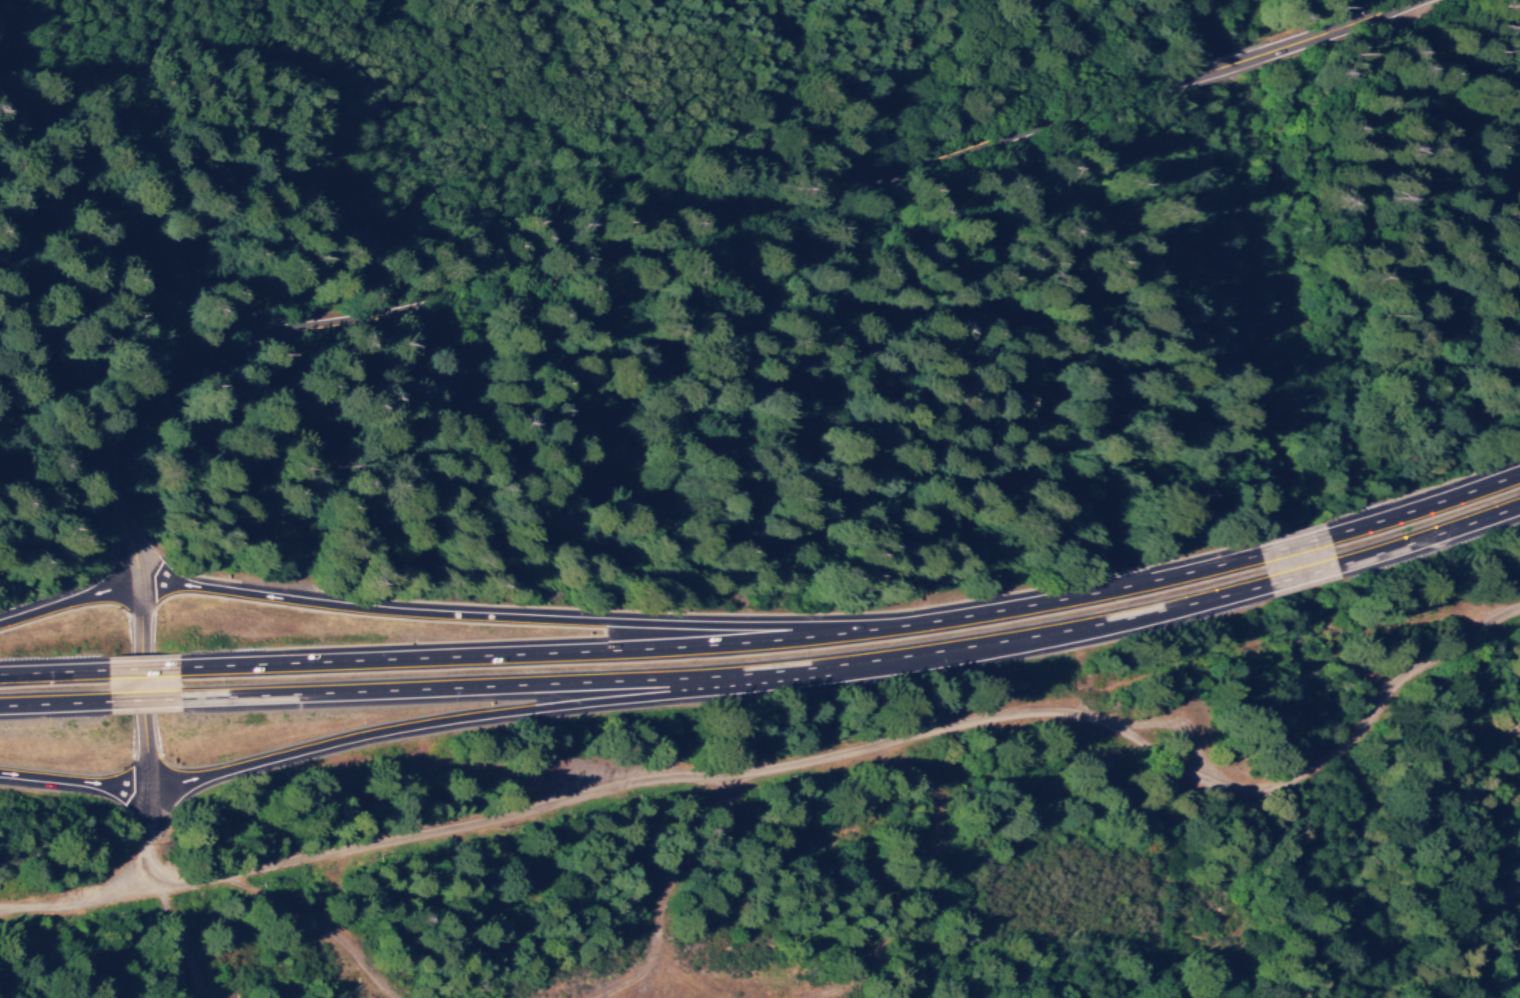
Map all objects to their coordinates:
road: (1351, 27)
road: (1228, 75)
road: (128, 89)
road: (149, 225)
road: (691, 265)
road: (94, 370)
road: (147, 474)
road: (1423, 512)
road: (1430, 544)
road: (1295, 550)
road: (1307, 579)
road: (1129, 589)
road: (69, 606)
road: (502, 622)
road: (931, 626)
road: (141, 636)
road: (526, 660)
road: (148, 674)
road: (56, 676)
road: (733, 679)
road: (150, 703)
road: (58, 706)
road: (469, 723)
road: (145, 739)
road: (803, 763)
road: (72, 782)
road: (148, 837)
road: (1519, 914)

